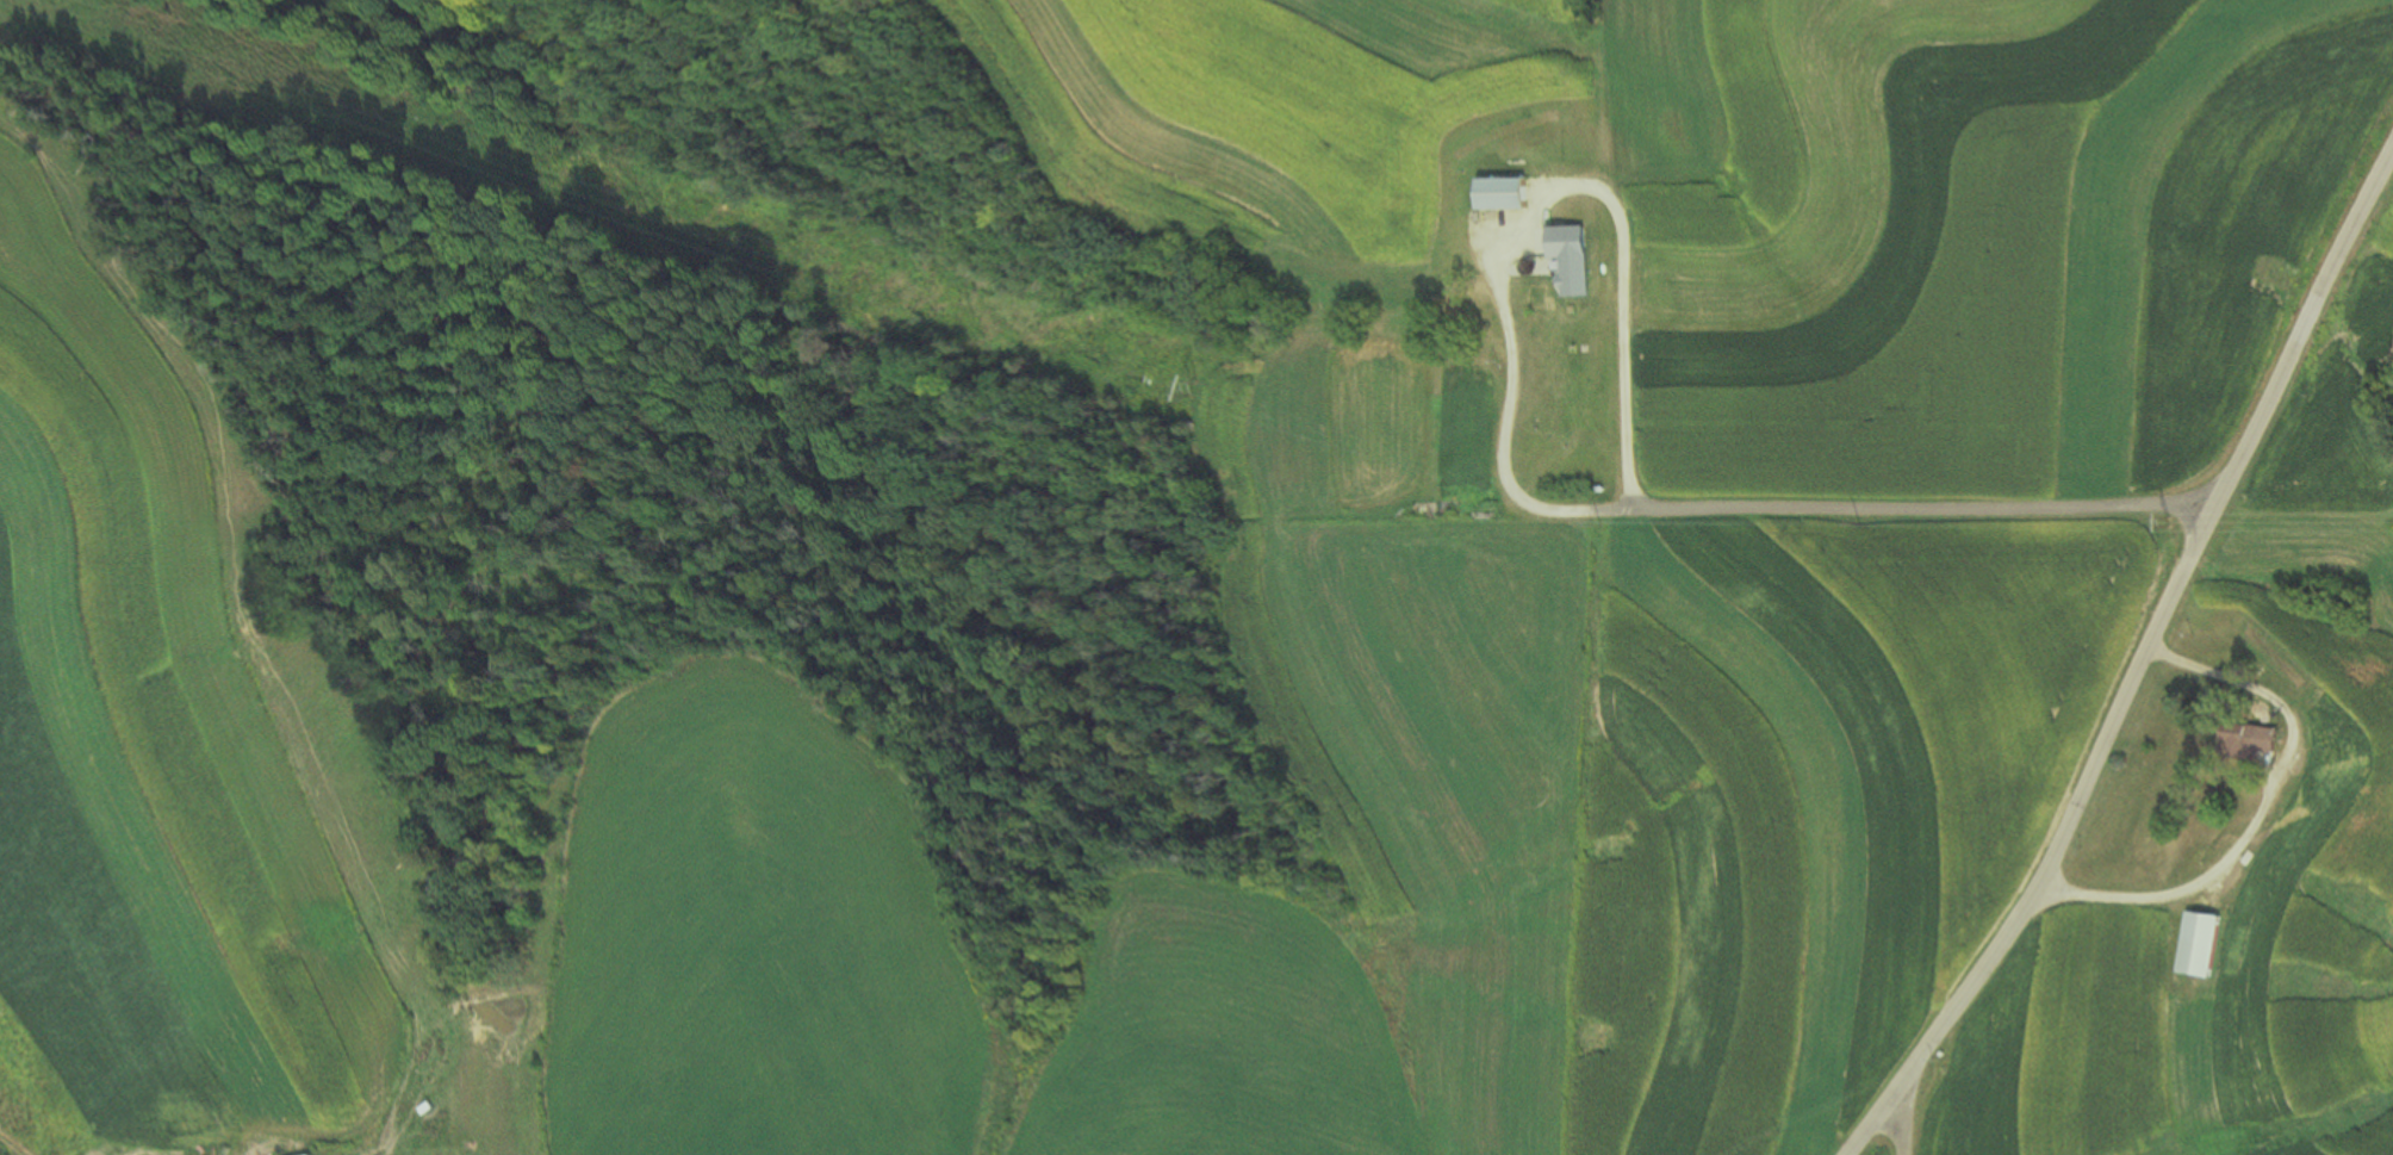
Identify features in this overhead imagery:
road: (1528, 213)
power tower: (1198, 387)
road: (1907, 514)
power tower: (2163, 521)
power tower: (1595, 526)
road: (2131, 664)
road: (2257, 803)
road: (1901, 1123)

